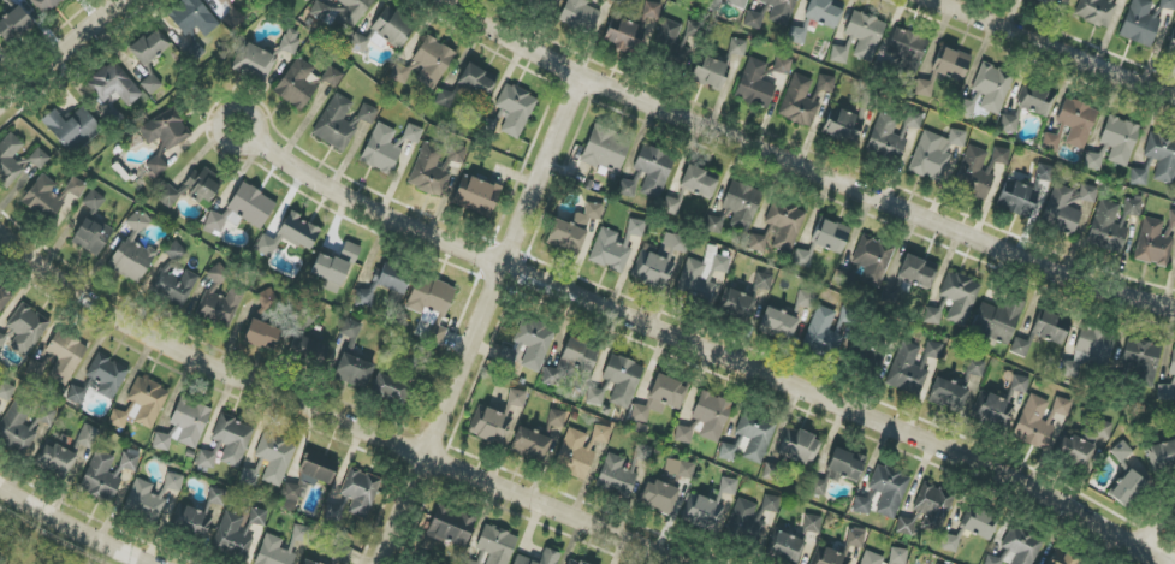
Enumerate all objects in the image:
building: (6, 0)
building: (307, 0)
building: (220, 1)
building: (1043, 1)
building: (547, 2)
building: (734, 2)
building: (47, 5)
building: (1168, 5)
building: (652, 10)
building: (781, 11)
building: (824, 12)
building: (1096, 12)
building: (580, 14)
building: (194, 18)
building: (343, 18)
building: (753, 19)
building: (1140, 23)
building: (14, 25)
building: (392, 26)
building: (666, 35)
building: (796, 35)
building: (865, 35)
building: (624, 36)
building: (290, 41)
building: (687, 42)
building: (1171, 44)
building: (149, 47)
building: (737, 47)
building: (906, 48)
road: (1049, 51)
road: (58, 52)
building: (196, 52)
building: (838, 54)
building: (433, 60)
building: (255, 63)
building: (951, 65)
building: (400, 73)
building: (710, 73)
building: (476, 81)
building: (303, 83)
building: (825, 83)
building: (152, 84)
building: (755, 84)
building: (114, 85)
building: (925, 89)
building: (987, 90)
building: (444, 99)
building: (1037, 100)
building: (799, 102)
building: (515, 109)
building: (342, 121)
building: (1076, 121)
building: (1009, 124)
building: (841, 125)
building: (71, 127)
building: (165, 130)
building: (413, 133)
building: (891, 135)
building: (957, 138)
building: (1118, 139)
building: (1050, 142)
building: (605, 149)
building: (381, 150)
building: (931, 156)
building: (1162, 156)
building: (36, 160)
building: (1093, 161)
building: (155, 166)
building: (437, 167)
building: (654, 170)
road: (803, 170)
building: (979, 170)
building: (1045, 172)
building: (1138, 177)
building: (699, 183)
building: (201, 186)
building: (76, 188)
building: (627, 188)
building: (476, 195)
building: (167, 196)
building: (43, 198)
building: (1017, 198)
building: (93, 201)
building: (741, 204)
building: (671, 206)
building: (1067, 206)
building: (1132, 207)
building: (242, 210)
building: (1171, 219)
building: (785, 224)
building: (713, 225)
building: (1108, 226)
building: (636, 227)
building: (574, 228)
building: (91, 236)
building: (289, 236)
building: (830, 236)
building: (758, 243)
building: (1152, 244)
building: (132, 251)
building: (611, 251)
building: (350, 253)
building: (802, 257)
building: (872, 260)
building: (659, 261)
building: (330, 272)
building: (918, 272)
building: (701, 275)
building: (174, 278)
building: (762, 281)
building: (959, 296)
building: (4, 299)
building: (267, 299)
building: (805, 299)
building: (219, 301)
building: (432, 303)
building: (736, 303)
building: (932, 315)
road: (479, 320)
building: (998, 320)
building: (778, 325)
building: (1051, 327)
building: (26, 328)
building: (350, 331)
building: (821, 334)
building: (262, 336)
building: (2, 340)
building: (534, 343)
building: (1020, 346)
road: (702, 349)
building: (308, 350)
building: (1088, 350)
building: (65, 356)
building: (1141, 361)
building: (570, 363)
building: (1173, 363)
building: (910, 367)
building: (975, 368)
building: (354, 370)
building: (107, 375)
building: (623, 380)
building: (1019, 384)
building: (390, 388)
building: (6, 391)
building: (1167, 391)
building: (76, 394)
building: (948, 394)
building: (595, 397)
building: (661, 398)
building: (141, 404)
building: (993, 408)
road: (332, 415)
building: (712, 415)
building: (495, 418)
building: (1039, 420)
building: (554, 422)
building: (24, 425)
building: (184, 426)
building: (683, 434)
building: (755, 435)
building: (87, 437)
building: (232, 439)
building: (532, 444)
building: (1084, 444)
building: (800, 446)
building: (581, 450)
building: (642, 452)
building: (1121, 452)
building: (1162, 455)
building: (274, 457)
building: (207, 459)
building: (55, 461)
building: (129, 462)
building: (320, 467)
building: (680, 468)
building: (839, 470)
building: (248, 476)
building: (616, 476)
building: (100, 477)
building: (728, 486)
building: (1127, 487)
building: (889, 489)
building: (360, 491)
building: (150, 497)
building: (216, 497)
building: (290, 497)
building: (659, 497)
building: (771, 504)
building: (861, 505)
building: (926, 509)
building: (334, 512)
building: (702, 512)
building: (196, 520)
building: (746, 522)
road: (1156, 524)
road: (73, 527)
building: (451, 527)
building: (238, 529)
building: (971, 529)
building: (301, 534)
building: (855, 538)
building: (794, 541)
building: (497, 545)
park: (32, 546)
building: (1022, 546)
building: (273, 552)
building: (342, 554)
building: (897, 556)
building: (550, 558)
building: (871, 558)
building: (1063, 558)
building: (992, 560)
building: (469, 562)
building: (307, 563)
building: (571, 563)

